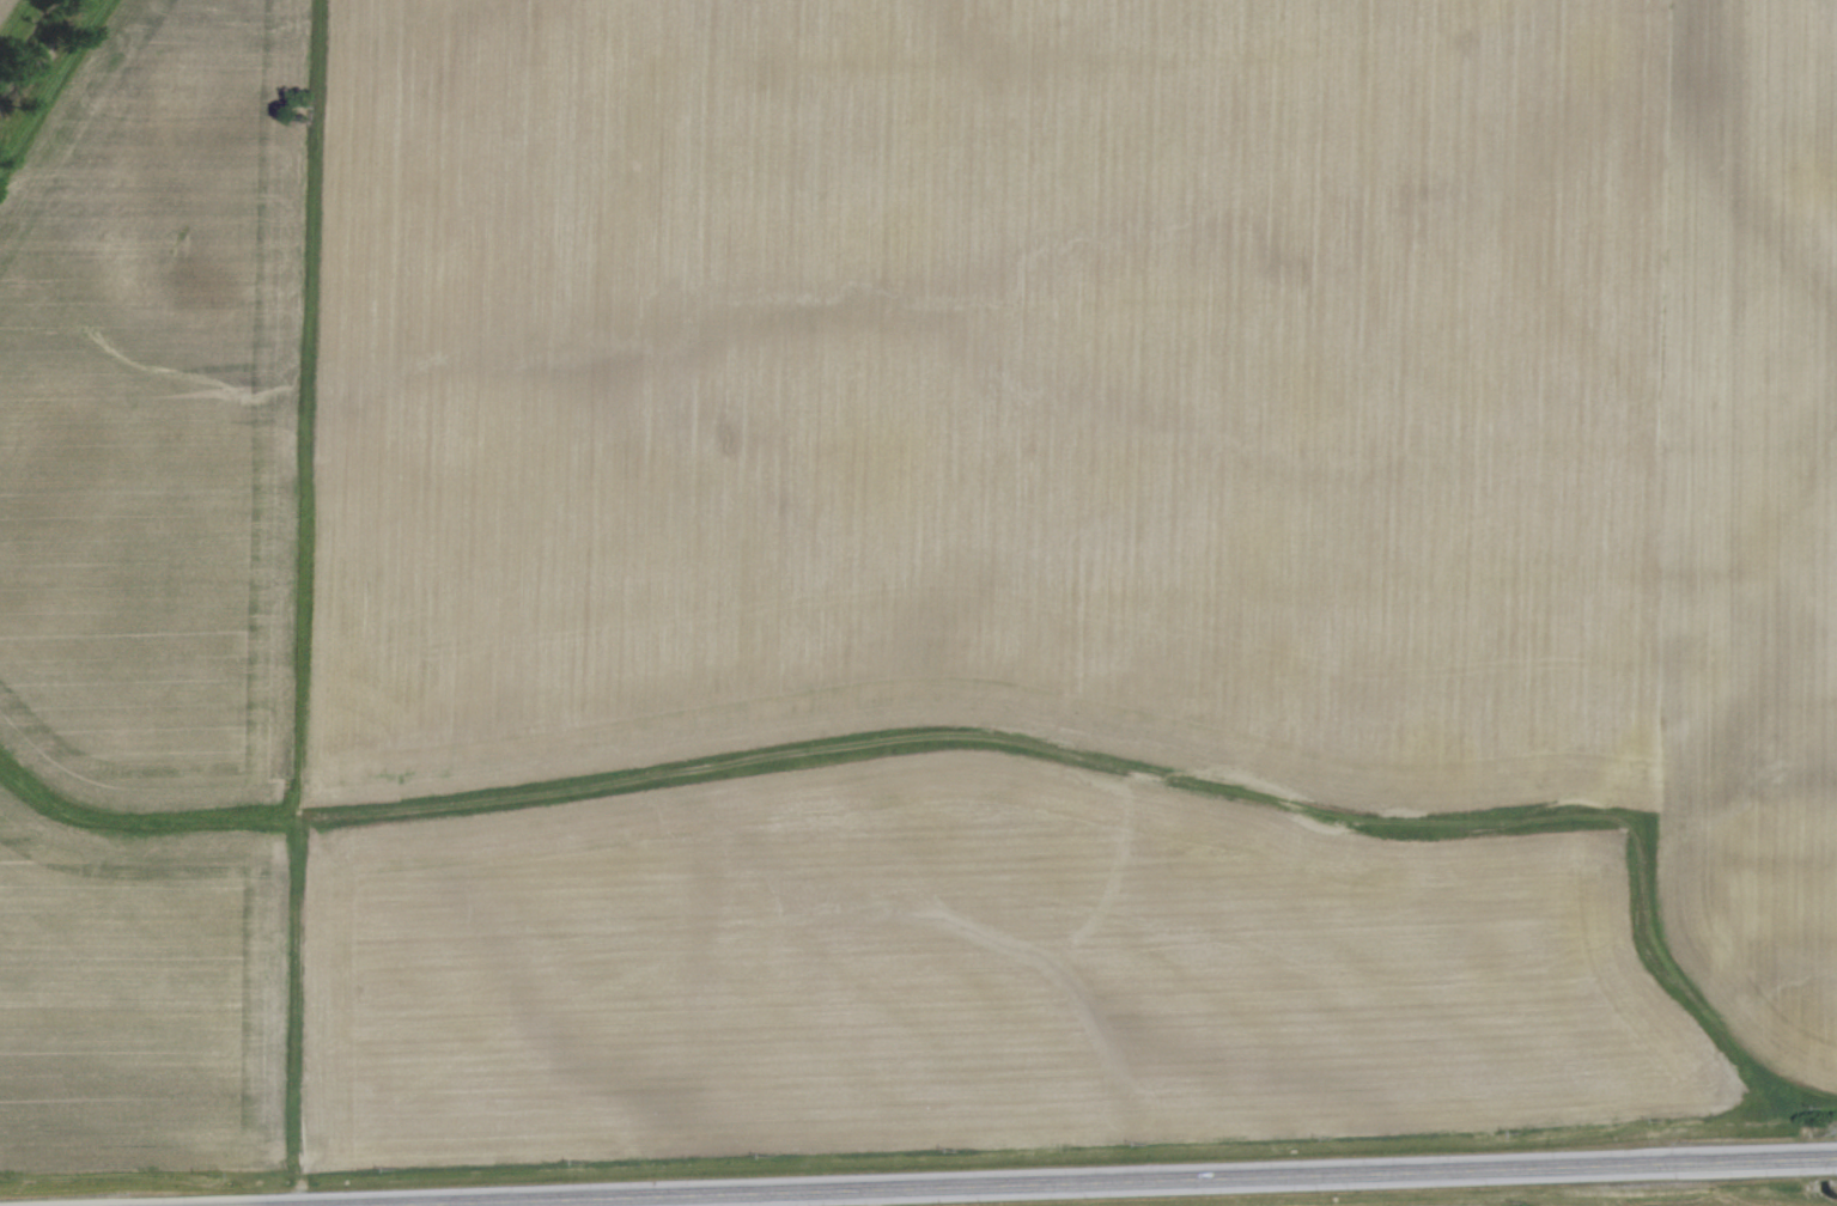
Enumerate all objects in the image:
road: (1000, 1180)

